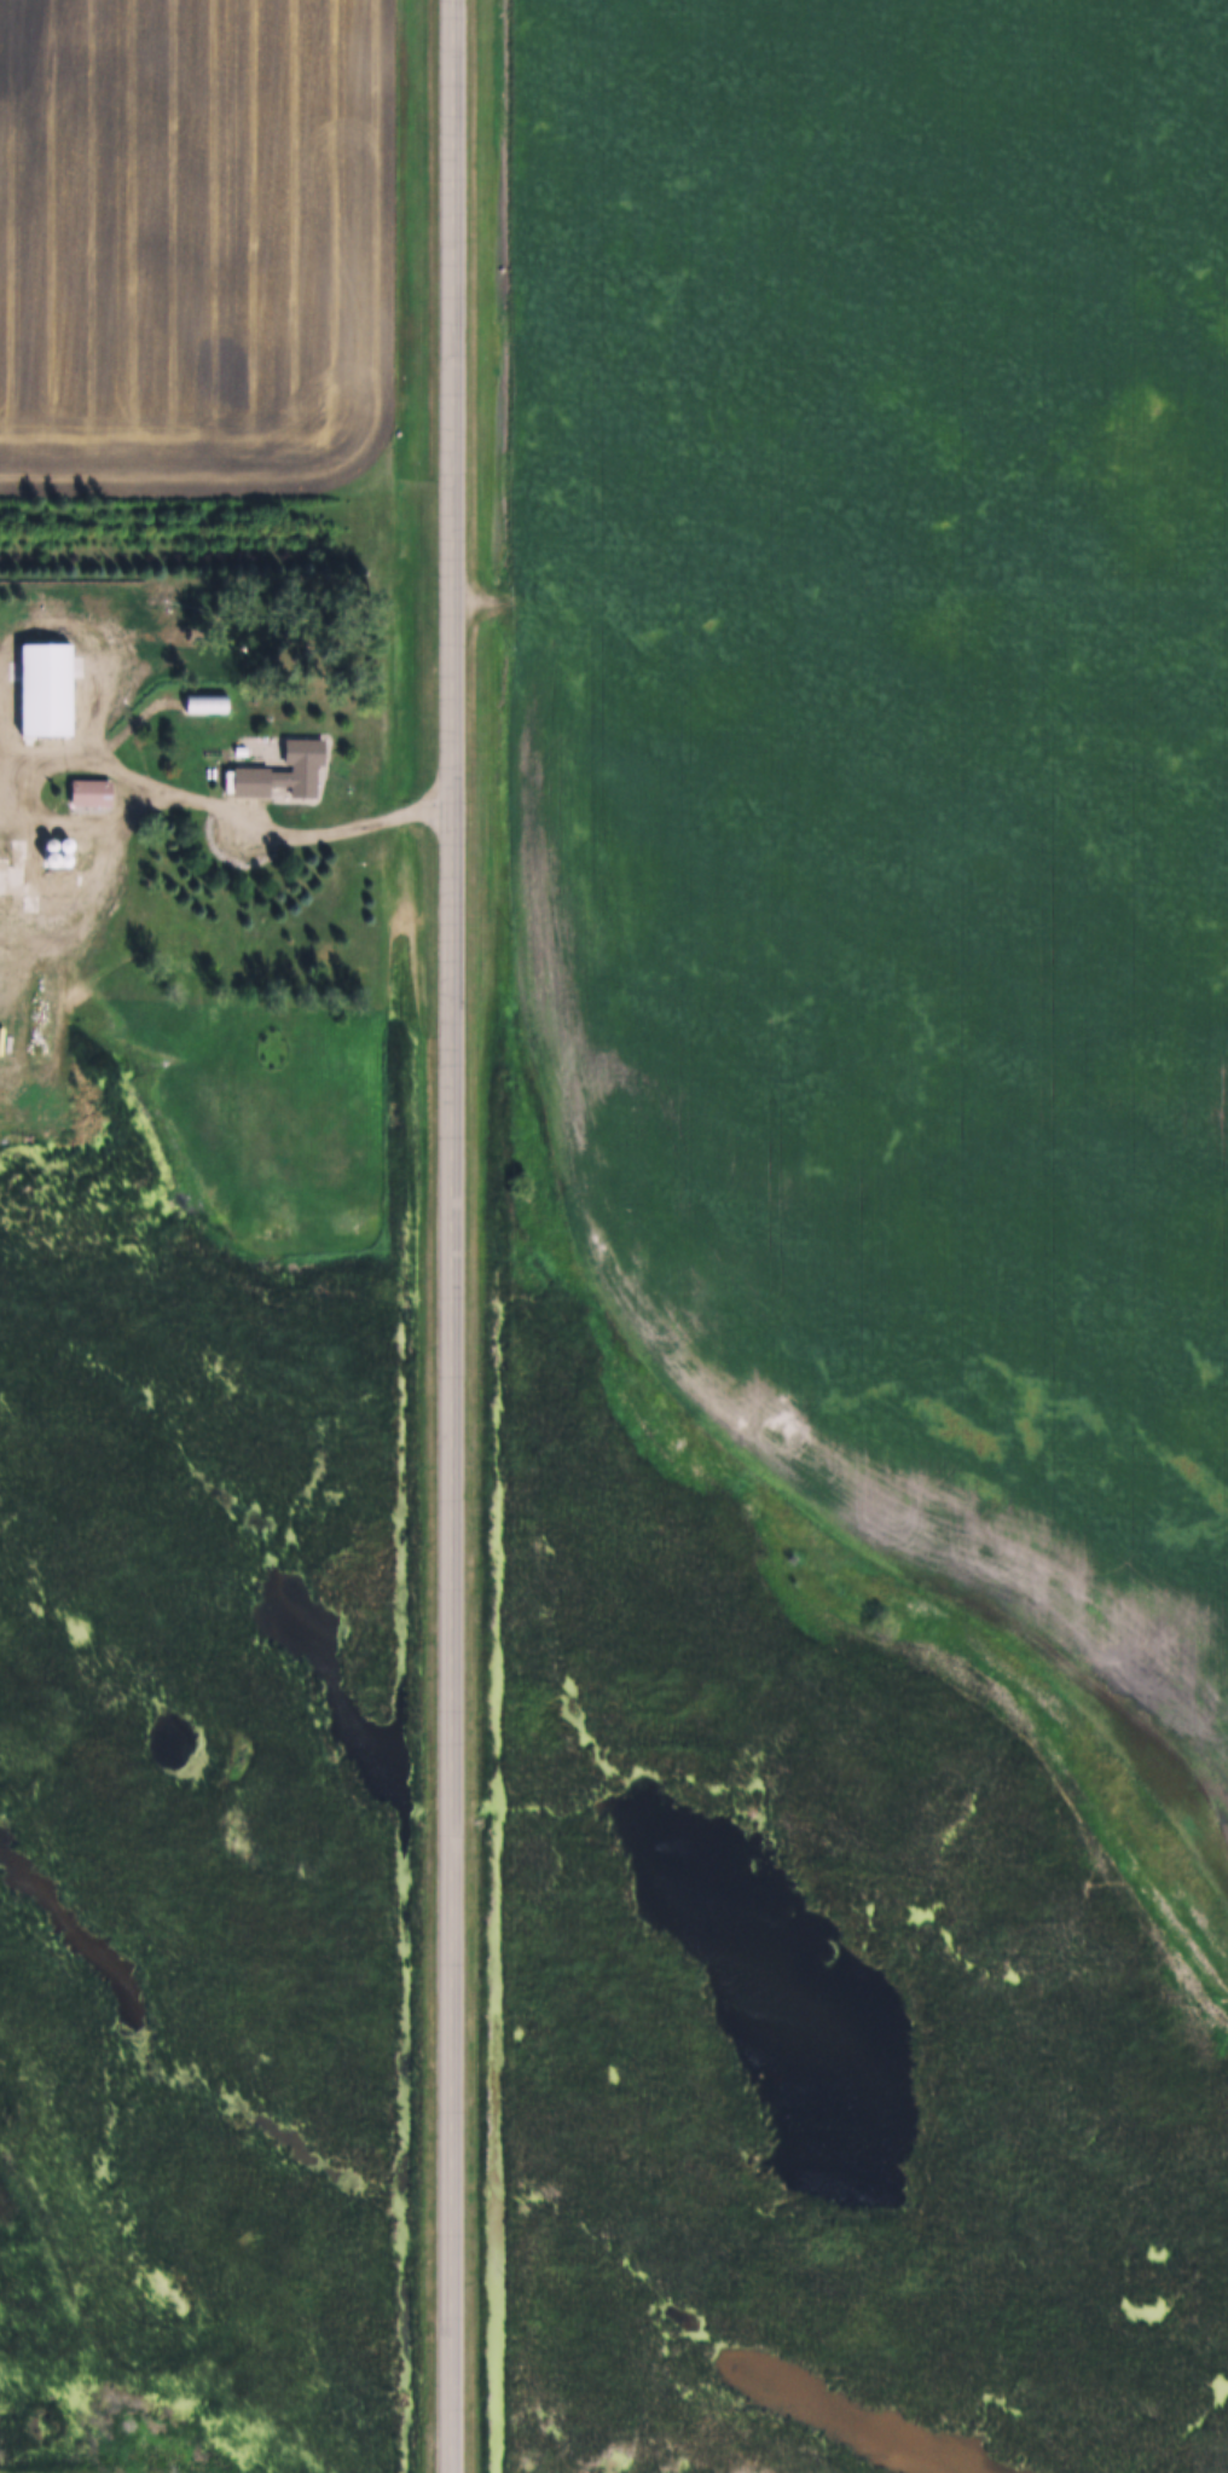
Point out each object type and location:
building: (36, 670)
building: (204, 701)
building: (202, 755)
building: (649, 764)
building: (282, 770)
road: (134, 778)
building: (89, 792)
building: (47, 847)
silo: (47, 847)
building: (63, 847)
silo: (63, 847)
building: (79, 849)
silo: (79, 849)
building: (83, 863)
silo: (83, 863)
building: (39, 881)
road: (450, 1236)

